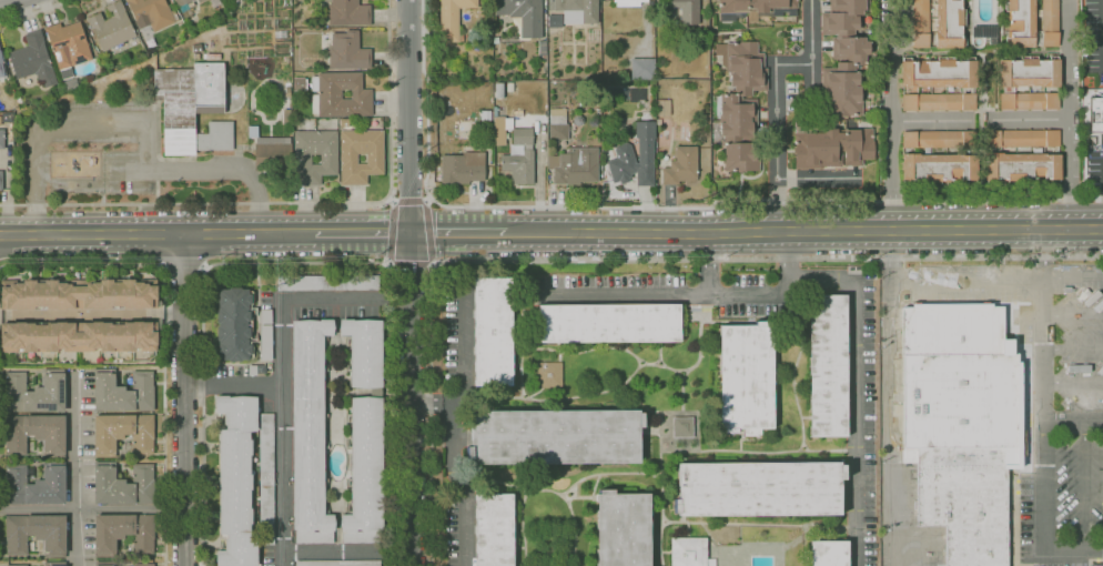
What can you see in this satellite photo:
road: (1, 0)
building: (192, 0)
building: (200, 1)
building: (180, 2)
building: (214, 2)
road: (827, 2)
building: (633, 3)
road: (820, 6)
building: (847, 7)
building: (758, 8)
building: (579, 9)
road: (32, 11)
building: (687, 11)
building: (1038, 12)
building: (152, 13)
building: (348, 13)
building: (524, 14)
building: (189, 18)
building: (452, 19)
building: (1049, 22)
building: (920, 23)
building: (1020, 23)
building: (838, 24)
building: (949, 24)
building: (111, 27)
building: (985, 34)
building: (487, 39)
building: (495, 40)
building: (513, 40)
building: (68, 47)
building: (542, 48)
road: (811, 50)
building: (850, 51)
building: (347, 52)
building: (33, 60)
building: (1, 69)
building: (642, 69)
building: (745, 69)
building: (1028, 72)
building: (939, 73)
building: (68, 84)
building: (298, 84)
building: (509, 88)
building: (842, 90)
building: (1003, 90)
building: (499, 91)
building: (340, 95)
building: (1029, 101)
building: (938, 102)
building: (7, 105)
building: (192, 108)
building: (662, 108)
road: (892, 114)
road: (1067, 114)
building: (1096, 114)
building: (286, 117)
building: (738, 117)
road: (1030, 120)
building: (658, 121)
road: (930, 121)
road: (143, 122)
building: (344, 122)
building: (557, 125)
building: (500, 129)
road: (777, 131)
building: (522, 137)
building: (2, 139)
building: (938, 139)
building: (1021, 139)
building: (858, 146)
building: (527, 148)
building: (817, 149)
building: (271, 152)
building: (623, 152)
building: (740, 153)
building: (348, 159)
building: (327, 160)
building: (575, 165)
building: (518, 166)
building: (680, 166)
building: (462, 168)
building: (1021, 168)
building: (938, 169)
road: (817, 179)
building: (1, 180)
road: (911, 200)
road: (411, 202)
road: (297, 203)
road: (473, 206)
road: (806, 231)
road: (392, 232)
road: (429, 232)
road: (361, 233)
road: (459, 233)
road: (154, 235)
road: (1041, 253)
road: (617, 260)
road: (300, 262)
road: (412, 263)
road: (709, 265)
road: (183, 269)
road: (995, 276)
building: (327, 283)
road: (412, 283)
building: (78, 294)
road: (705, 296)
road: (91, 314)
building: (158, 314)
road: (1072, 316)
building: (233, 324)
building: (609, 324)
building: (492, 332)
road: (165, 335)
building: (78, 336)
building: (264, 336)
road: (465, 342)
road: (1072, 348)
building: (364, 353)
building: (20, 357)
building: (827, 366)
building: (252, 370)
road: (284, 370)
building: (548, 376)
building: (746, 377)
road: (1072, 381)
road: (234, 384)
building: (34, 392)
building: (123, 392)
road: (854, 393)
road: (184, 400)
road: (891, 401)
road: (425, 402)
road: (1072, 418)
building: (962, 424)
building: (681, 427)
building: (308, 433)
building: (36, 434)
building: (123, 434)
building: (555, 437)
road: (1042, 442)
road: (78, 467)
building: (364, 472)
road: (462, 474)
building: (266, 479)
building: (235, 481)
building: (122, 484)
road: (1085, 484)
building: (36, 485)
building: (758, 489)
road: (92, 508)
building: (621, 529)
building: (493, 530)
building: (34, 534)
building: (123, 534)
road: (347, 550)
building: (689, 552)
building: (828, 554)
building: (104, 563)
building: (337, 563)
building: (54, 564)
building: (17, 565)
building: (143, 565)
building: (1096, 565)

